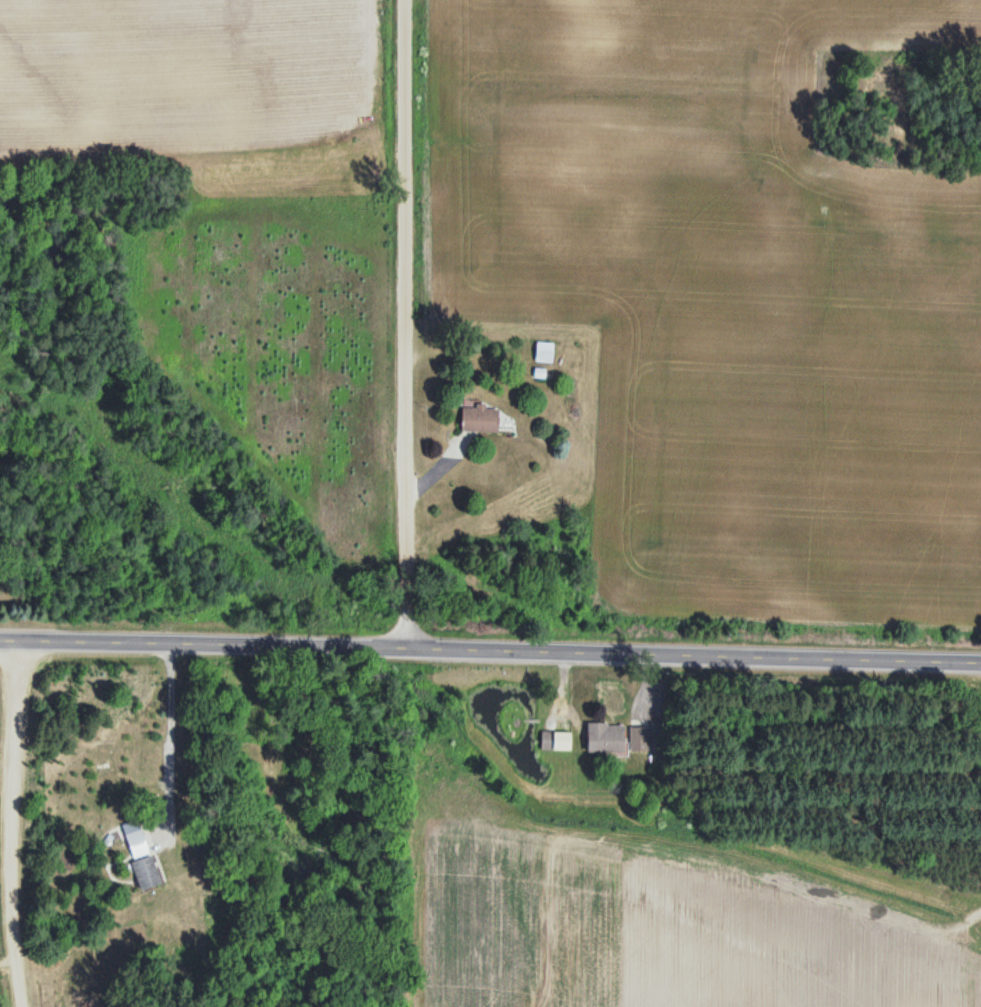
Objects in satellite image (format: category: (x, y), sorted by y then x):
road: (394, 324)
building: (542, 352)
building: (476, 420)
road: (490, 650)
building: (603, 737)
building: (545, 740)
building: (144, 872)

